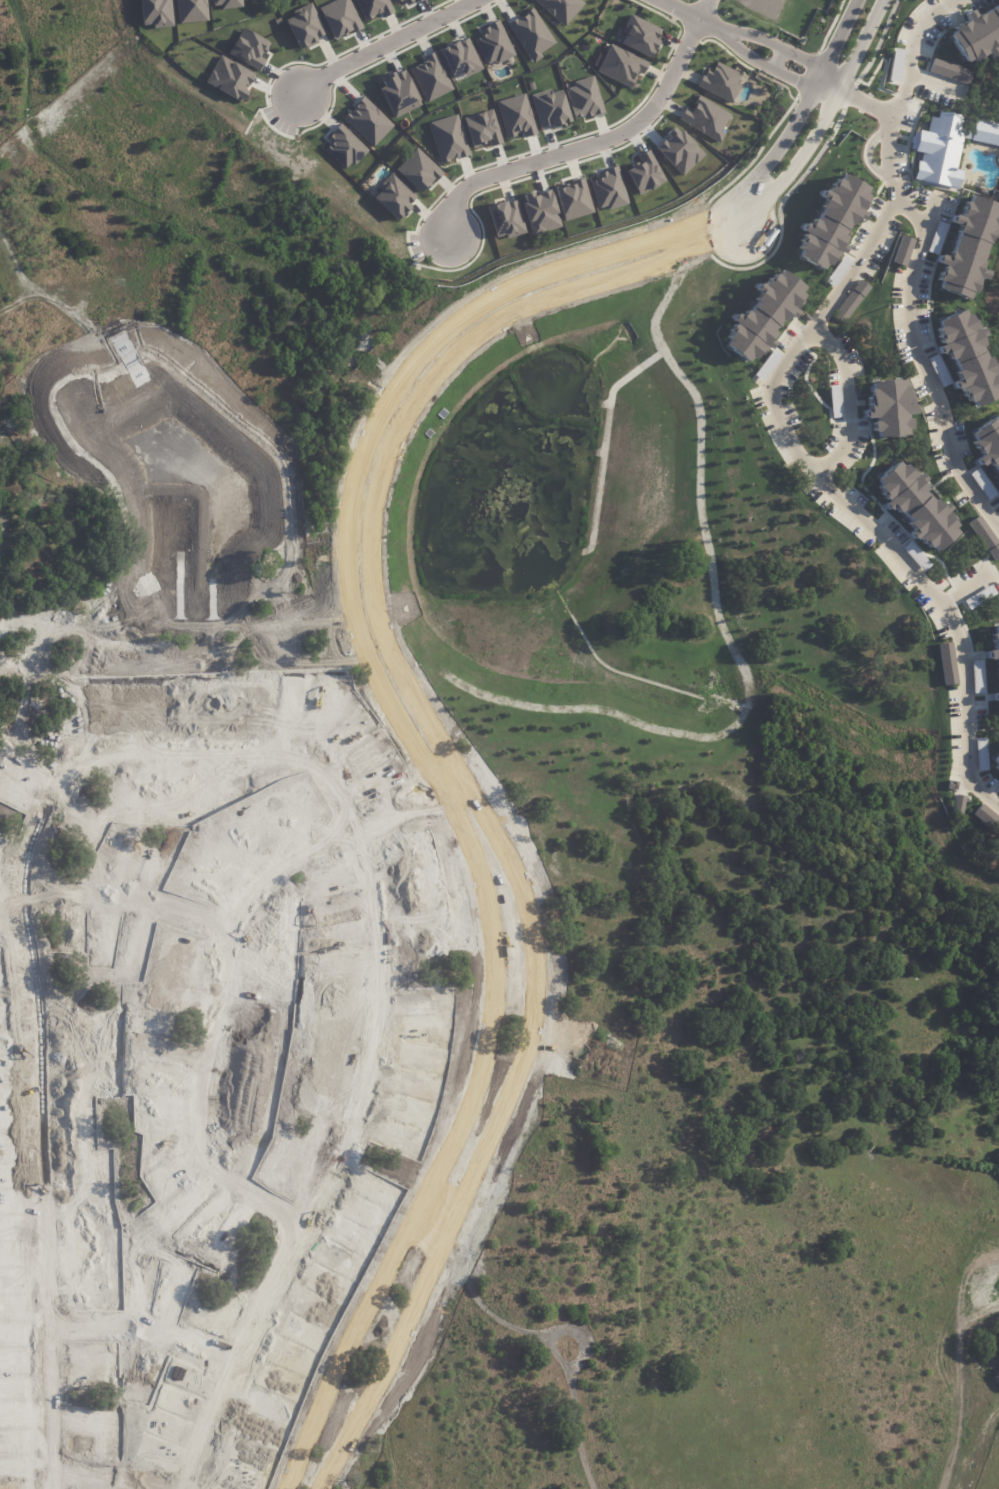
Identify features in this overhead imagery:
building: (396, 0)
building: (409, 1)
building: (227, 3)
building: (373, 7)
building: (561, 8)
building: (191, 10)
building: (157, 12)
road: (687, 13)
building: (339, 17)
building: (304, 24)
road: (751, 32)
building: (531, 33)
building: (976, 34)
building: (640, 35)
road: (915, 37)
building: (494, 42)
building: (248, 47)
road: (384, 47)
road: (878, 48)
road: (741, 53)
building: (460, 57)
road: (777, 57)
road: (815, 61)
building: (620, 64)
building: (945, 70)
building: (430, 76)
building: (230, 77)
building: (721, 81)
road: (804, 86)
building: (399, 91)
building: (584, 97)
road: (868, 101)
building: (550, 107)
building: (515, 115)
building: (706, 117)
building: (367, 120)
building: (482, 127)
road: (892, 131)
building: (448, 137)
road: (591, 145)
building: (344, 146)
building: (948, 146)
building: (679, 150)
building: (418, 170)
building: (646, 172)
road: (897, 187)
building: (608, 188)
building: (394, 196)
building: (574, 198)
road: (780, 201)
building: (541, 210)
building: (506, 218)
building: (834, 219)
building: (934, 244)
building: (970, 246)
building: (902, 250)
building: (837, 271)
building: (853, 297)
building: (764, 314)
building: (969, 355)
building: (766, 364)
road: (924, 366)
road: (848, 395)
building: (890, 406)
building: (836, 410)
building: (986, 443)
building: (900, 485)
road: (850, 493)
building: (839, 517)
building: (931, 522)
building: (984, 536)
building: (890, 566)
road: (366, 653)
road: (393, 657)
building: (994, 657)
building: (947, 663)
building: (978, 675)
road: (218, 747)
building: (981, 753)
building: (997, 754)
building: (997, 760)
building: (996, 769)
building: (958, 801)
building: (979, 811)
road: (129, 895)
road: (223, 960)
road: (434, 1217)
road: (147, 1330)
road: (104, 1474)

